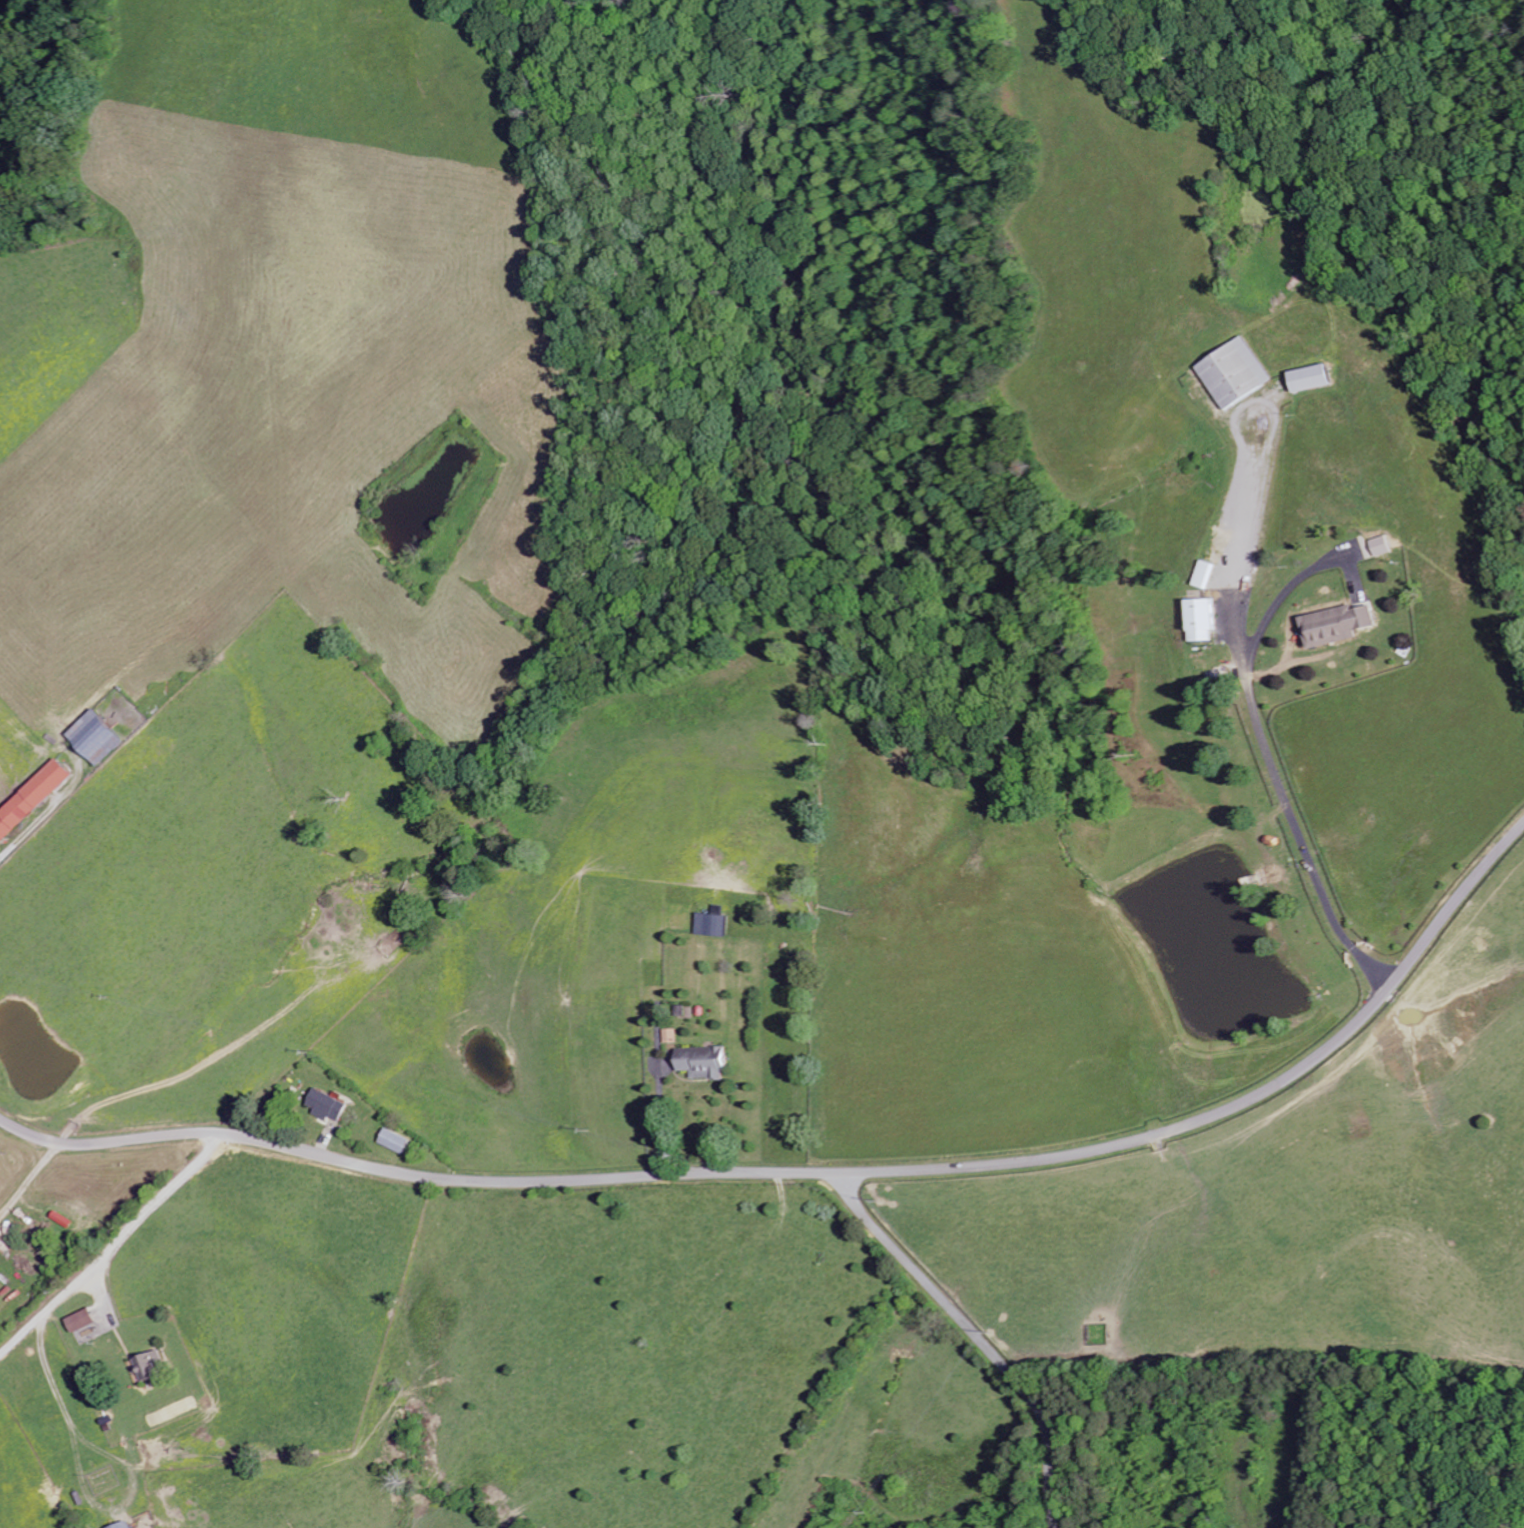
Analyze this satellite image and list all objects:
road: (11, 9)
building: (1233, 372)
building: (1307, 378)
building: (1380, 546)
building: (1208, 574)
building: (1205, 619)
building: (1333, 625)
building: (94, 739)
building: (31, 797)
building: (711, 925)
building: (701, 1062)
building: (327, 1106)
road: (1231, 1107)
building: (395, 1141)
road: (409, 1164)
road: (833, 1172)
road: (974, 1334)
building: (159, 1366)
building: (130, 1525)

